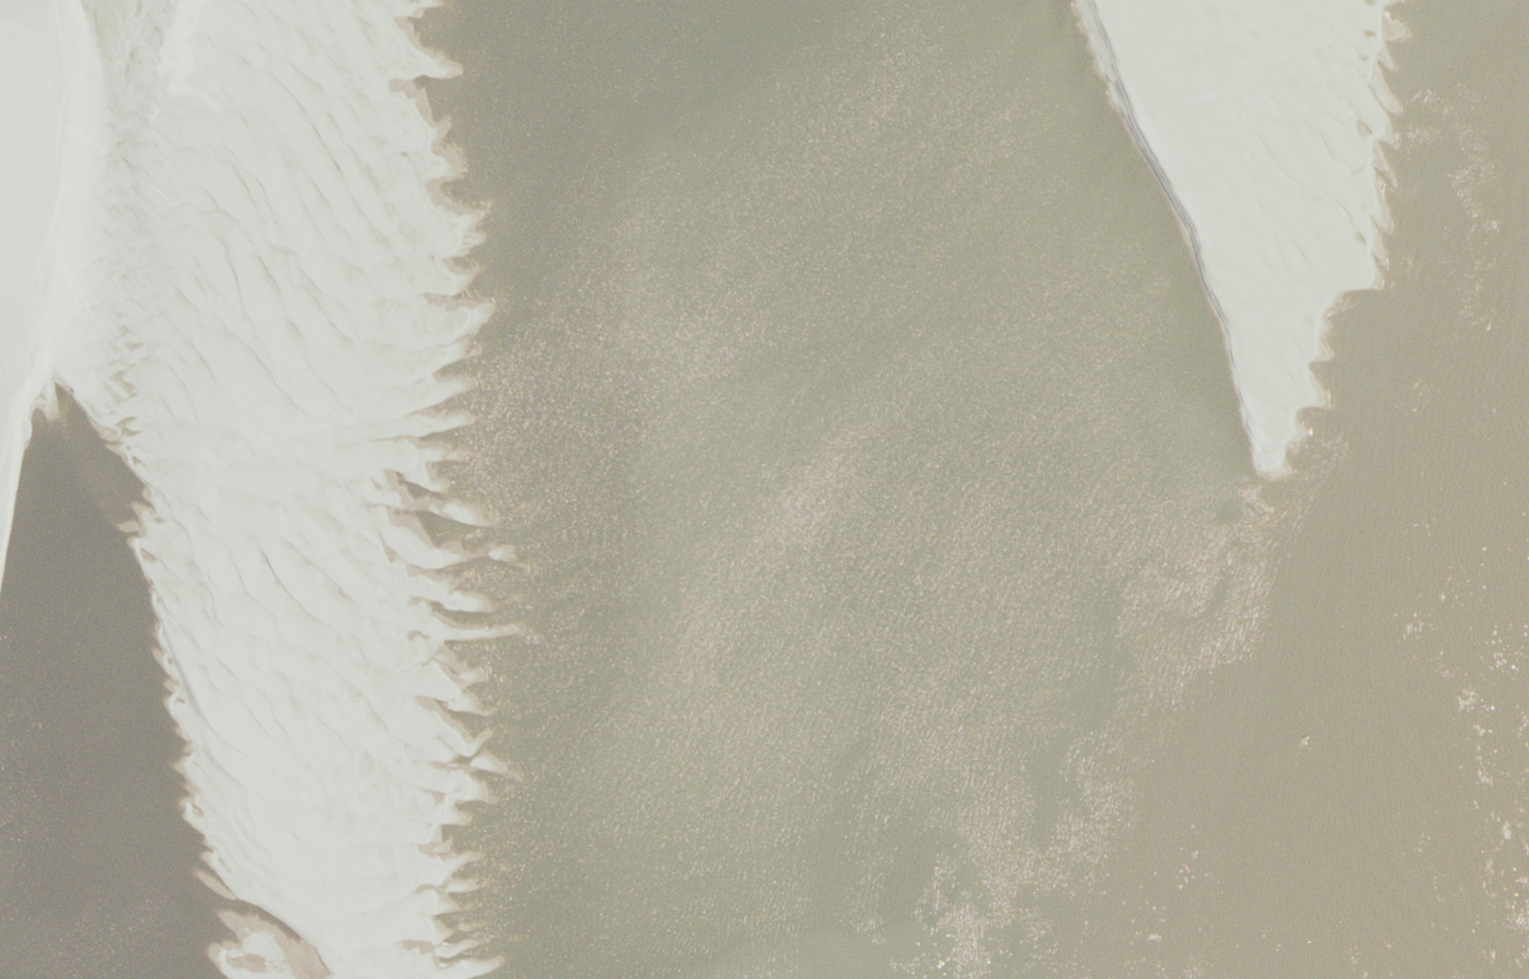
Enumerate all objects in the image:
river: (1317, 489)

